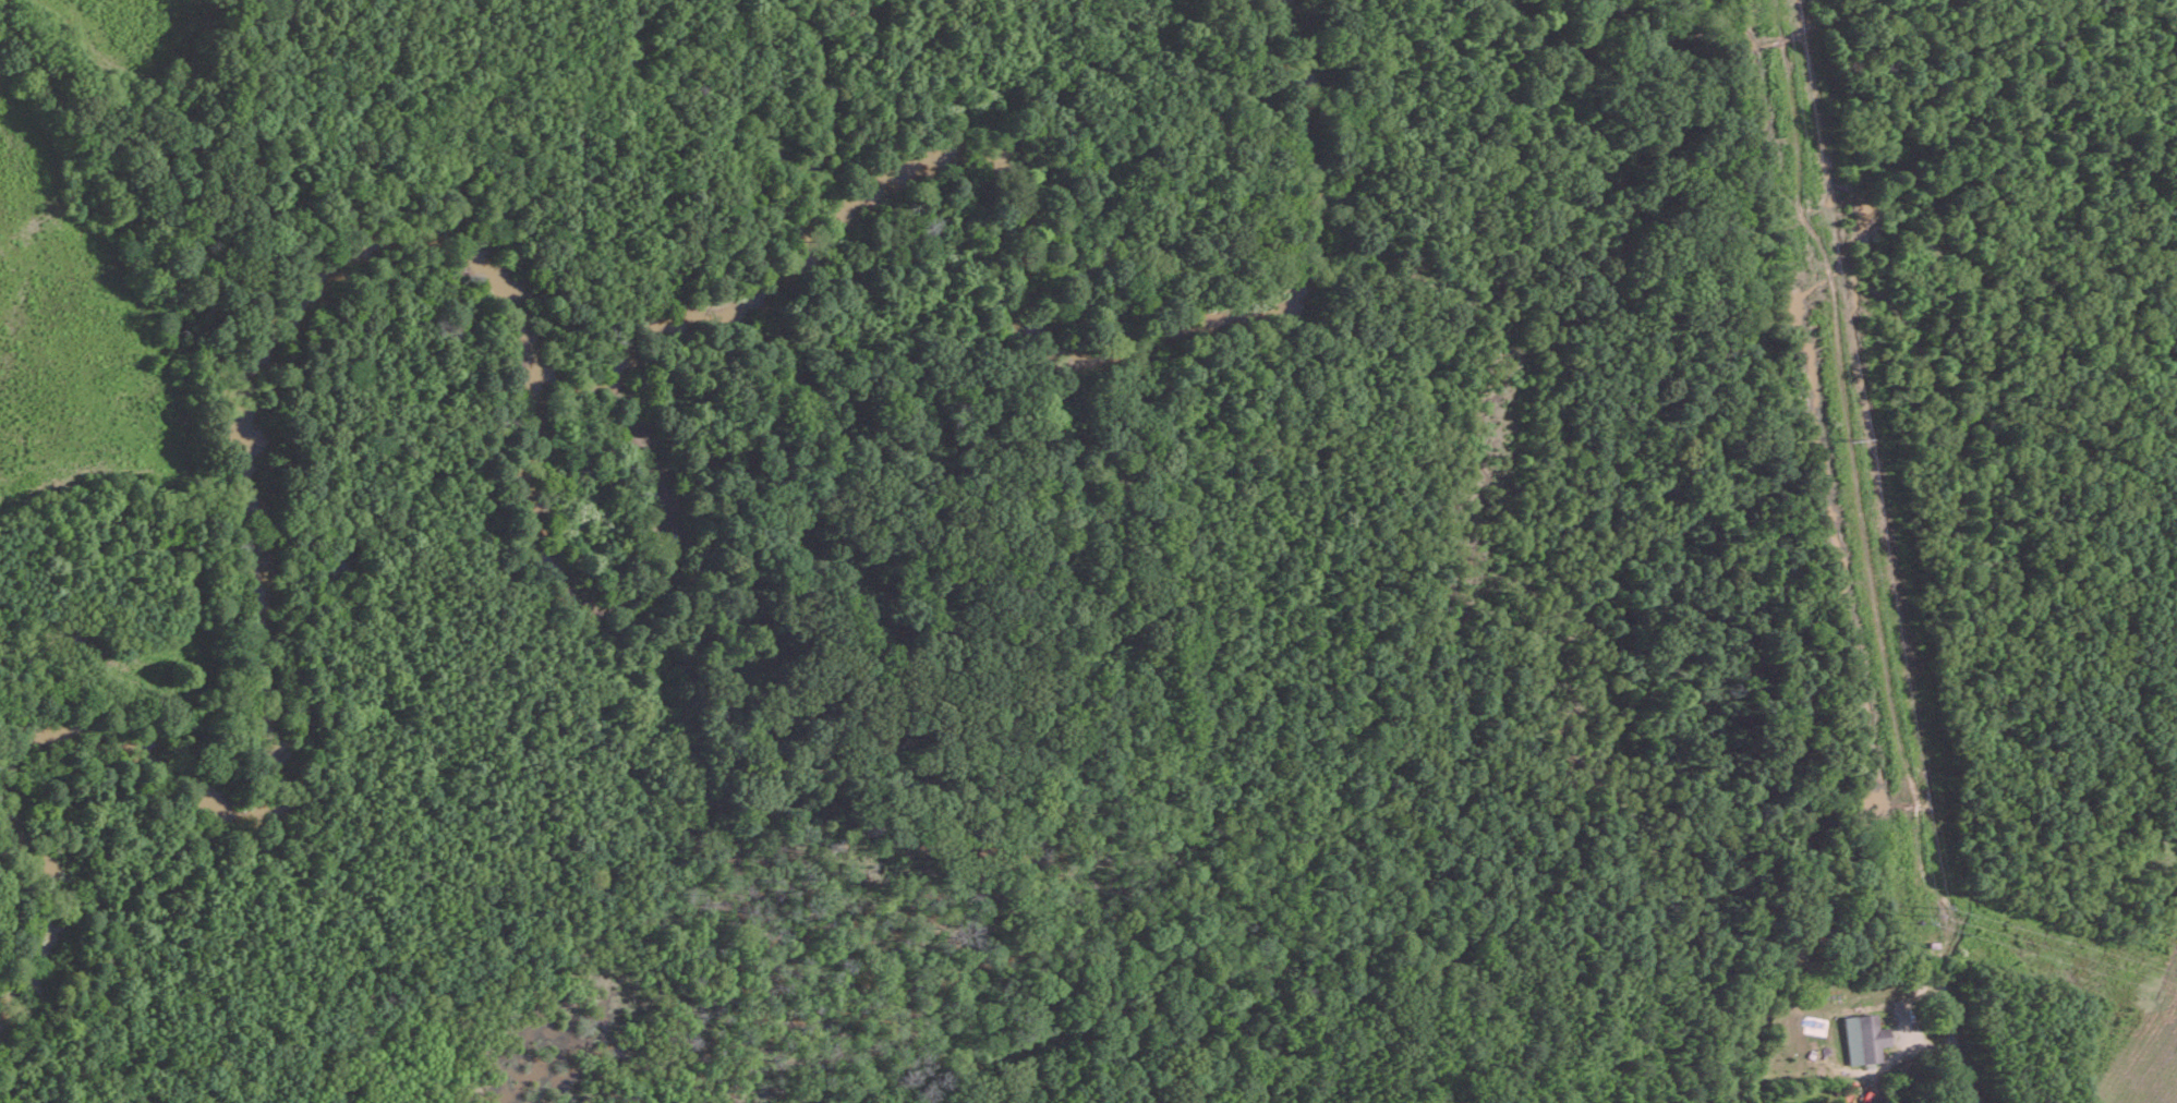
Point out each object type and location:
power tower: (1851, 440)
river: (543, 562)
power tower: (1930, 916)
crop: (2137, 1019)
building: (1863, 1038)

